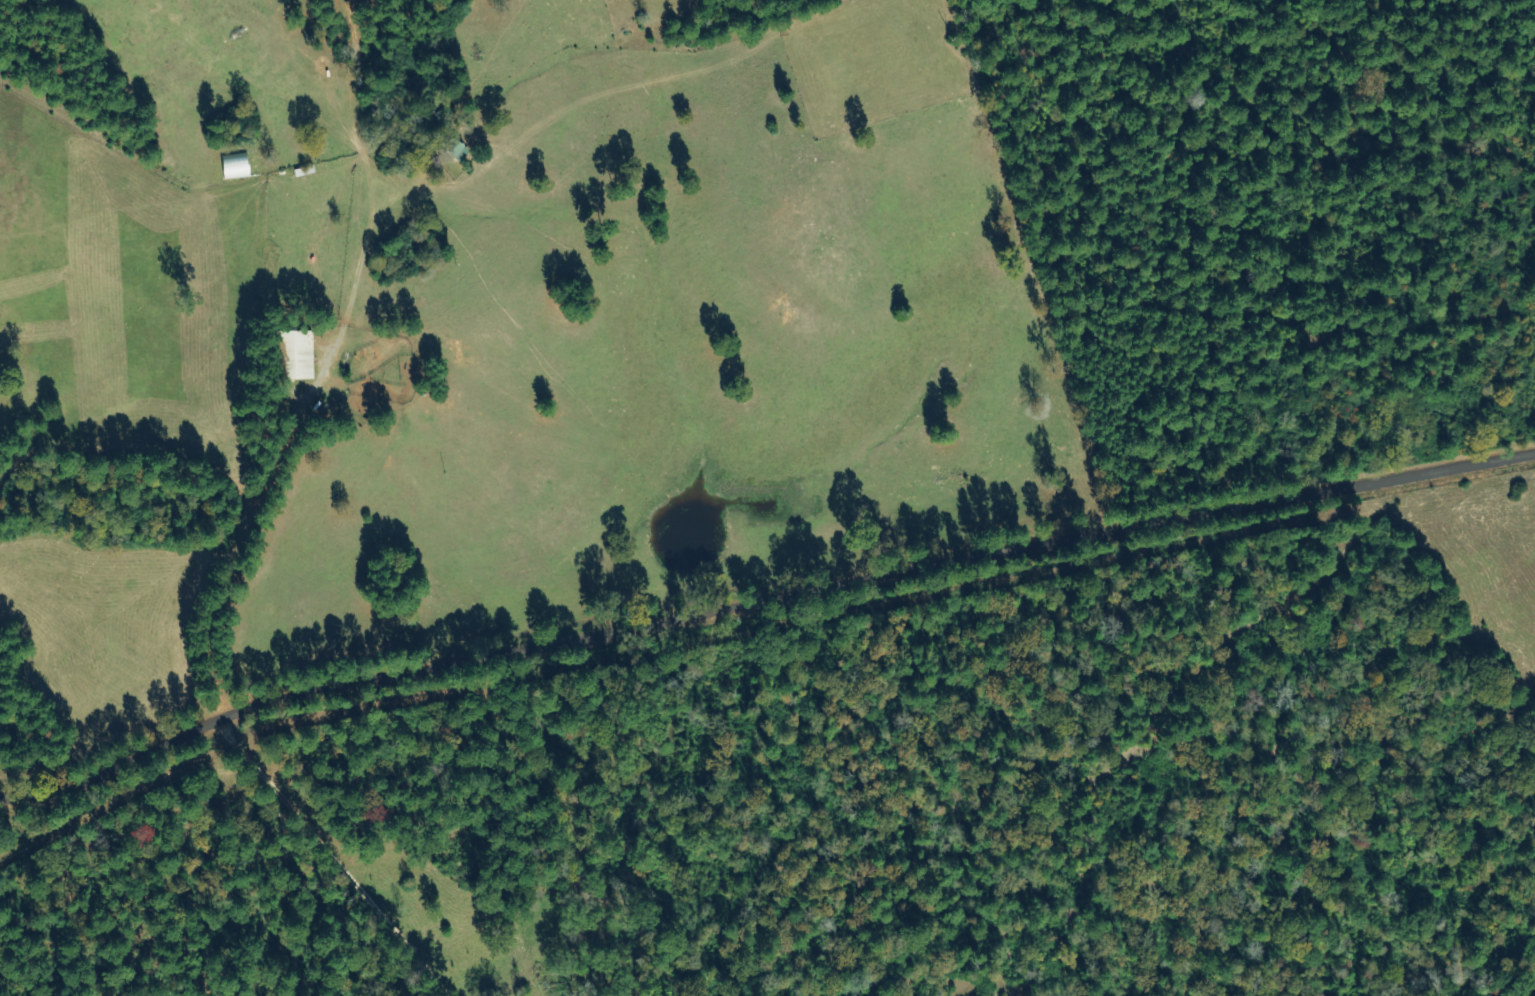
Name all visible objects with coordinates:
building: (456, 153)
building: (293, 355)
road: (288, 392)
road: (757, 619)

